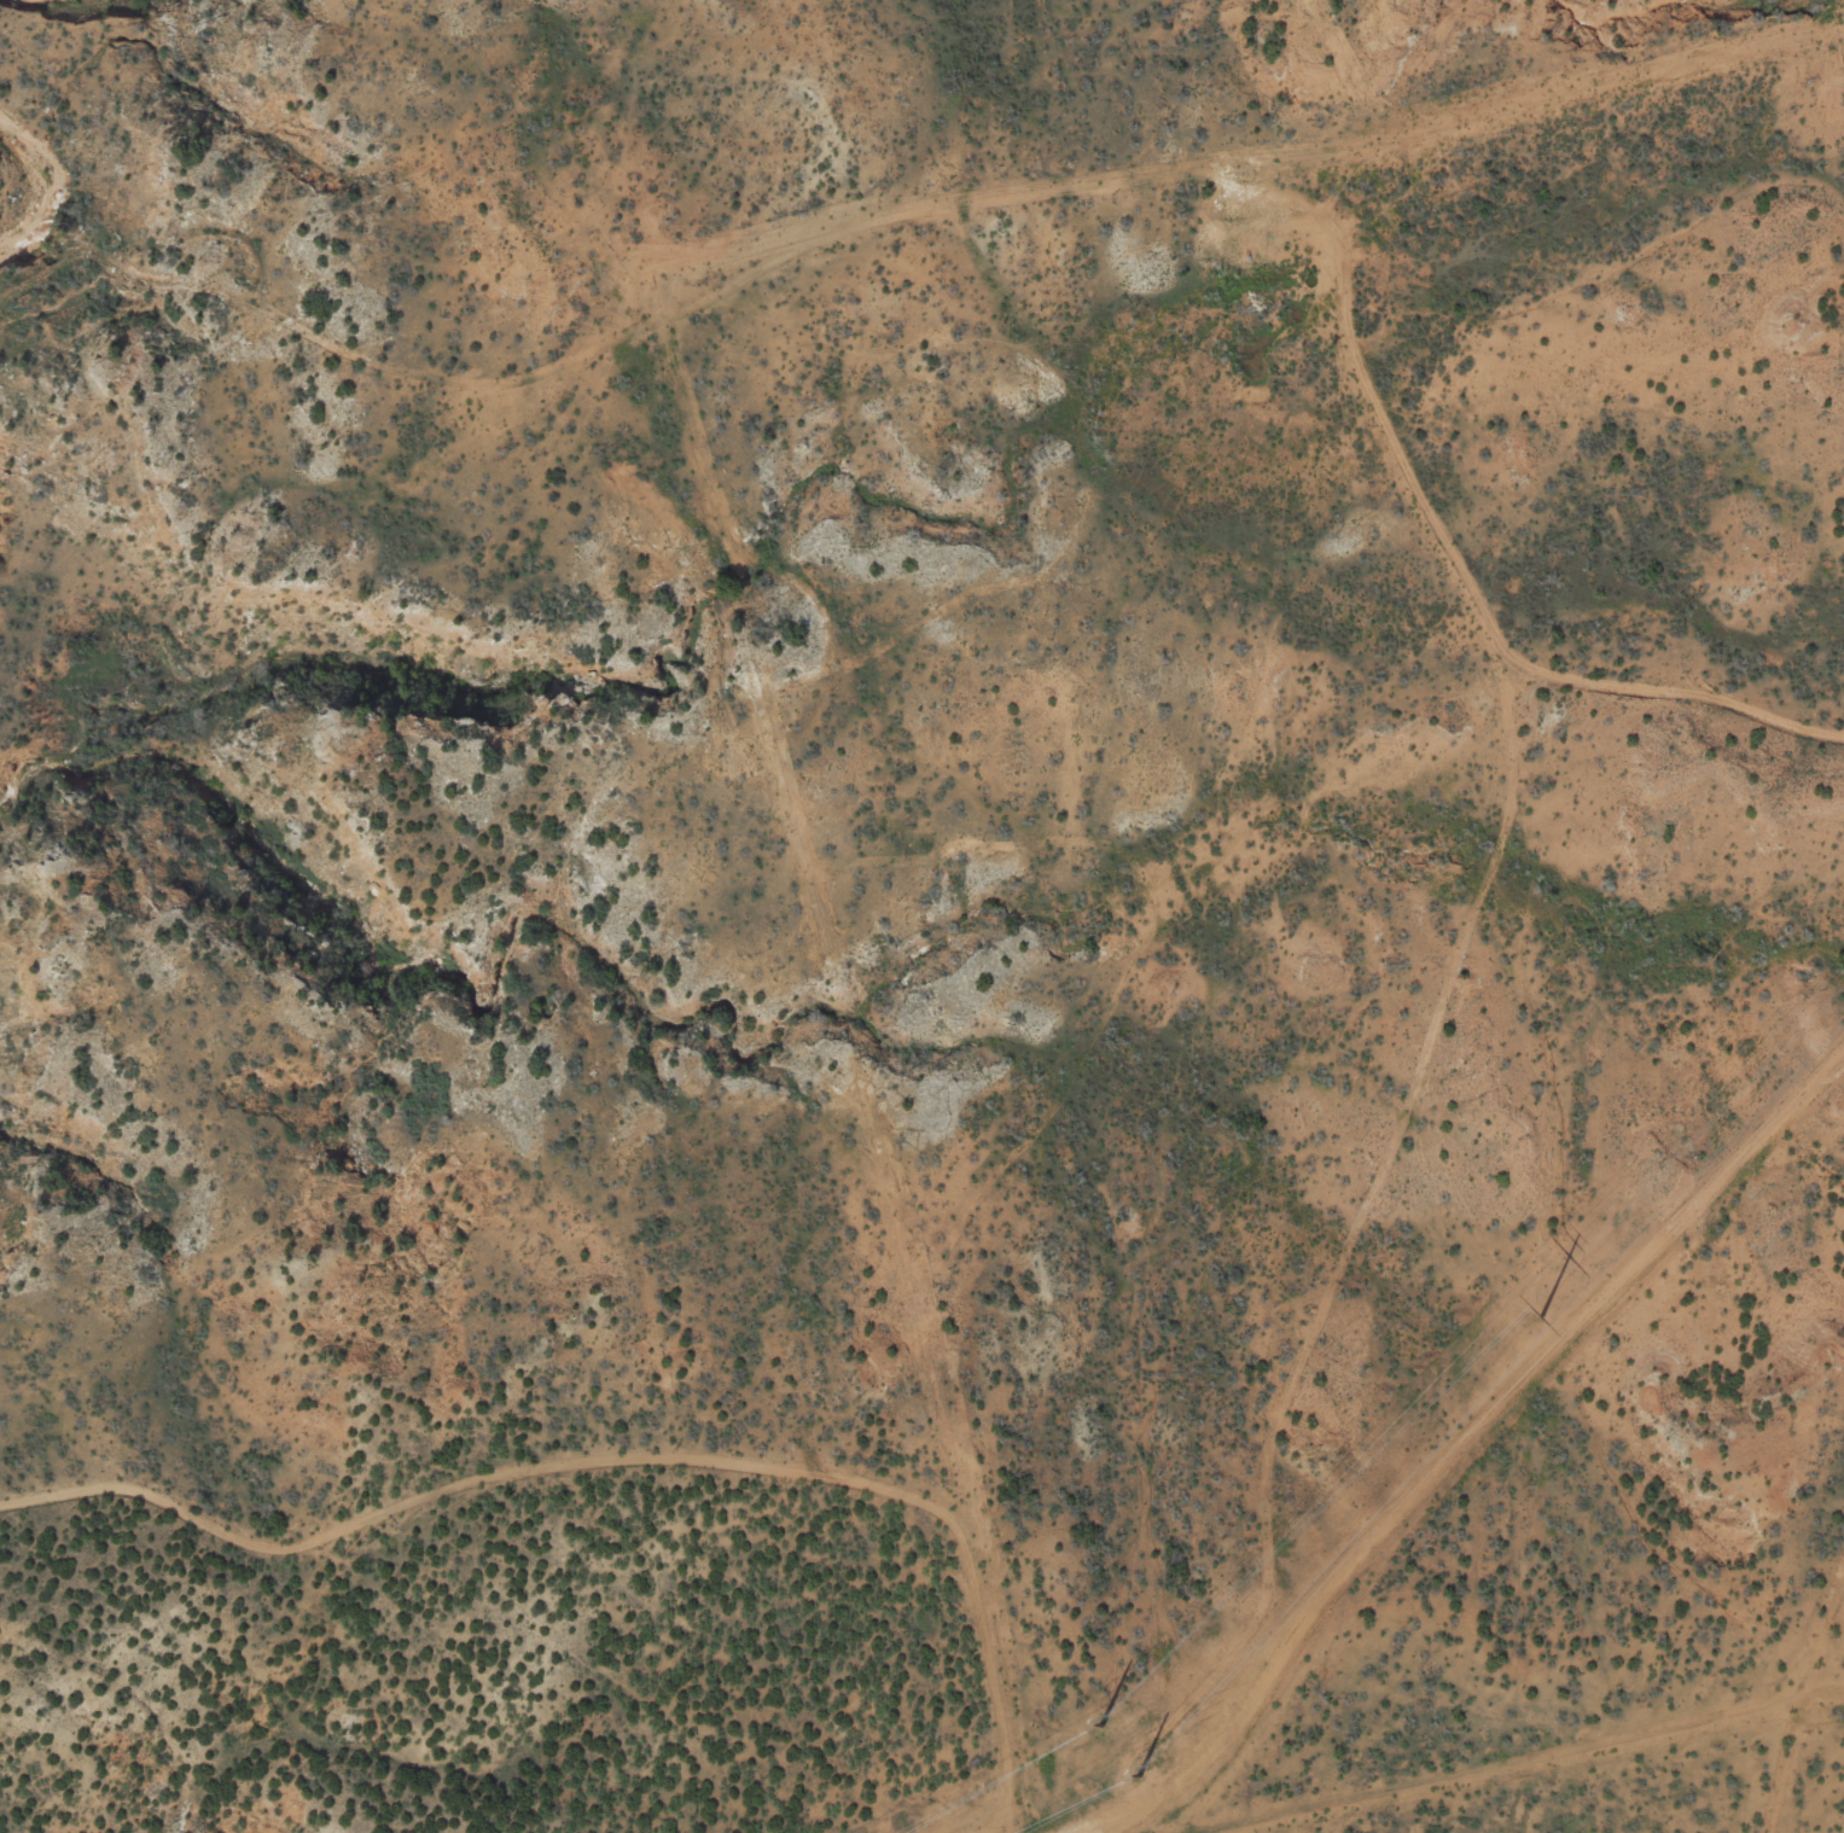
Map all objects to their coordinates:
road: (929, 490)
power tower: (1538, 1314)
power tower: (1119, 1746)
road: (1821, 1779)

